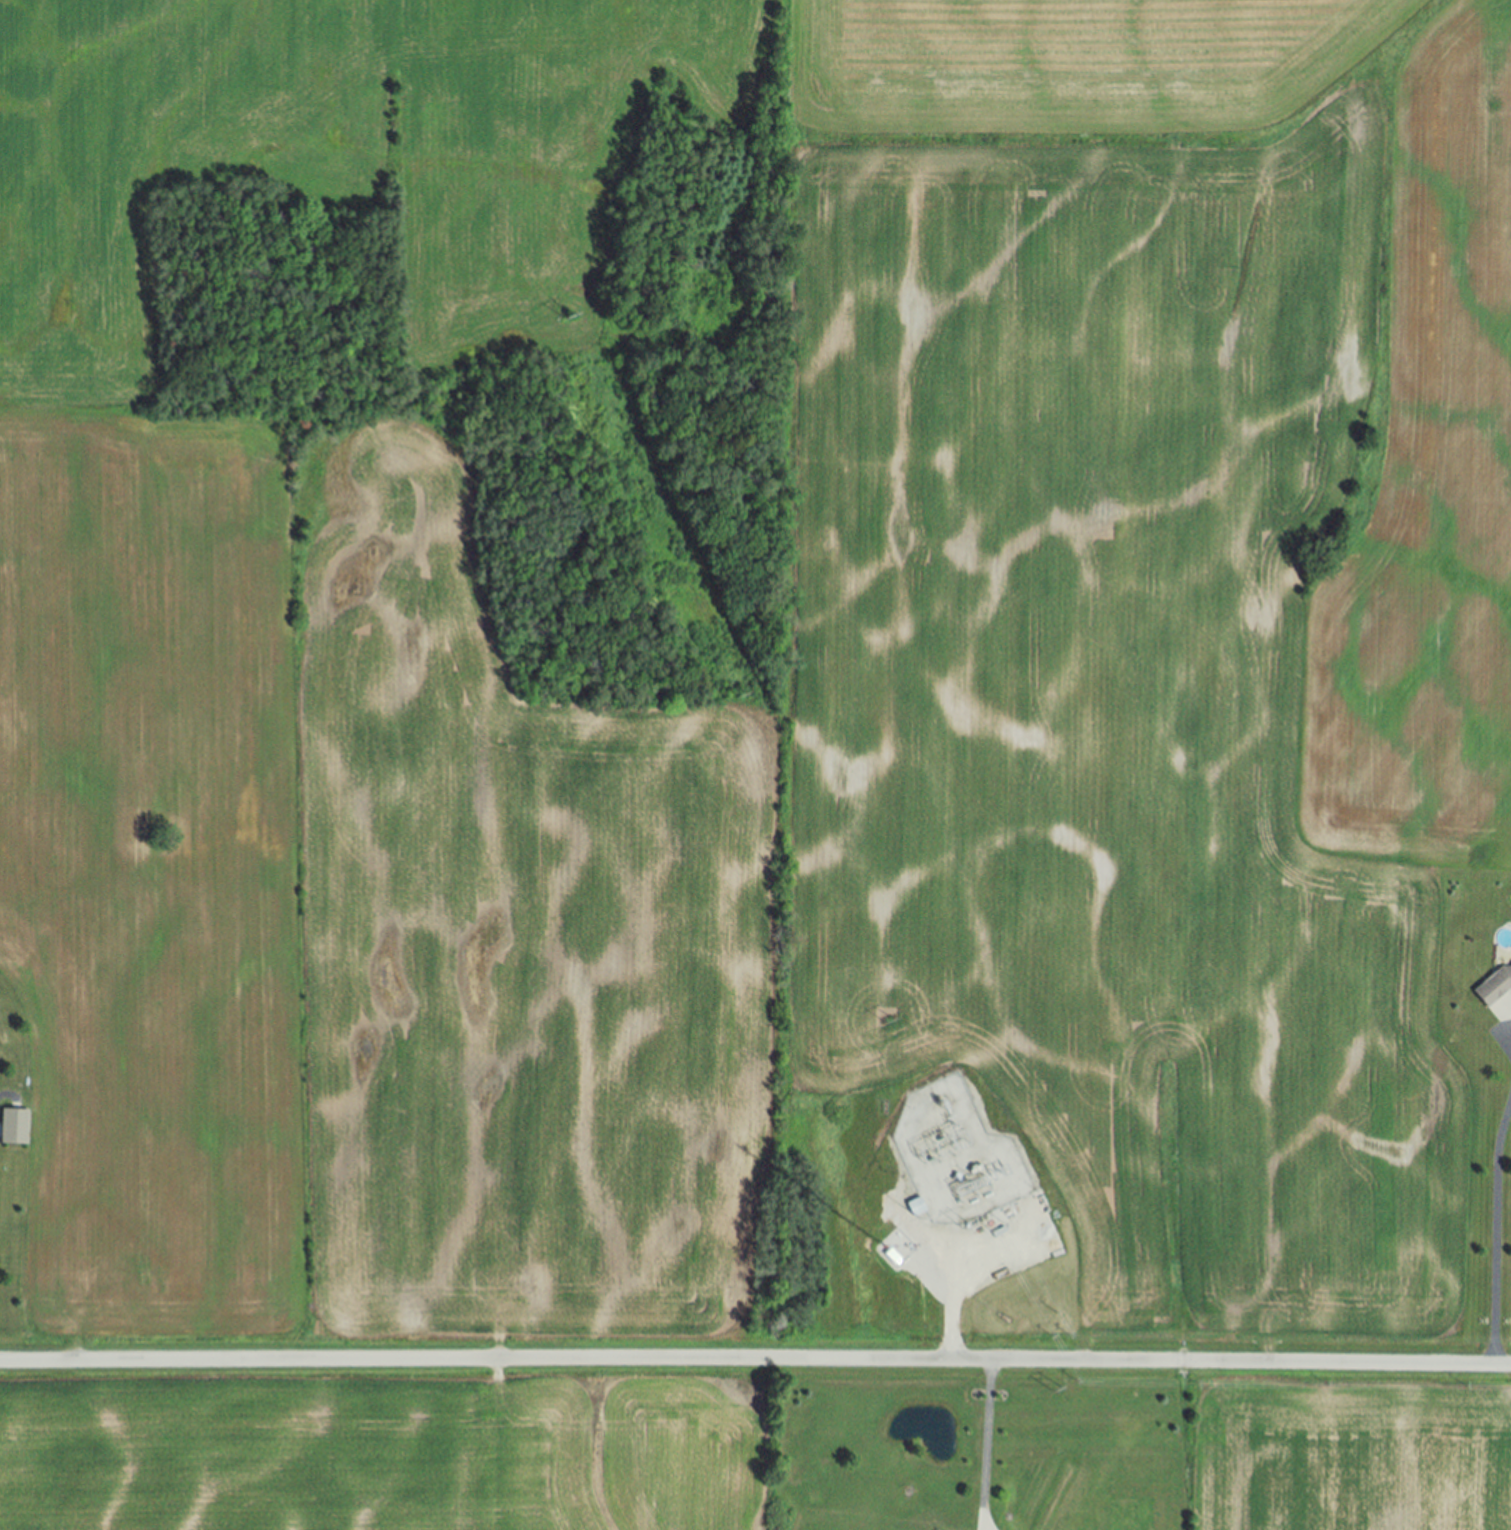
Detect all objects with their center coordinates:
power tower: (568, 319)
power tower: (740, 695)
building: (1495, 987)
power tower: (889, 1019)
road: (1506, 1043)
building: (16, 1127)
power substation: (960, 1159)
building: (918, 1207)
road: (1497, 1231)
road: (952, 1316)
road: (755, 1361)
power tower: (1056, 1390)
road: (988, 1445)

